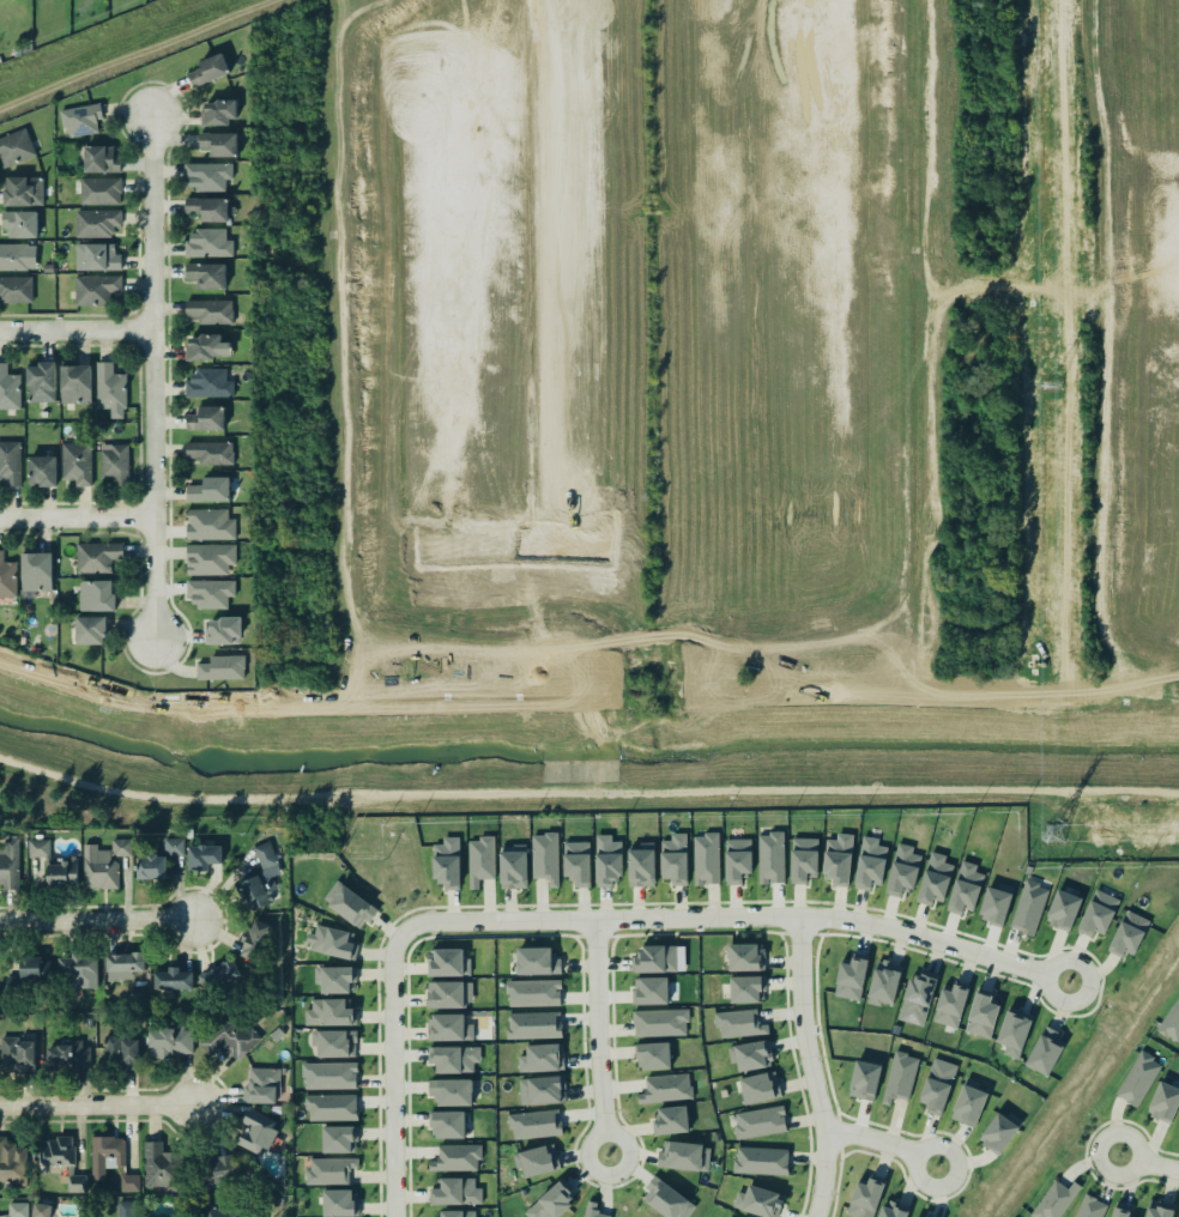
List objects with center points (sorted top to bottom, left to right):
building: (208, 69)
building: (219, 111)
road: (903, 113)
road: (925, 119)
building: (81, 120)
road: (339, 122)
road: (1102, 138)
building: (218, 144)
building: (16, 147)
building: (101, 159)
building: (208, 176)
building: (24, 192)
building: (99, 192)
building: (210, 208)
building: (97, 223)
building: (20, 224)
road: (913, 237)
building: (208, 243)
road: (300, 255)
building: (13, 256)
building: (97, 258)
road: (939, 266)
building: (207, 274)
road: (929, 274)
building: (16, 287)
building: (96, 289)
road: (945, 293)
road: (1038, 295)
building: (211, 311)
road: (74, 326)
building: (208, 347)
road: (150, 377)
building: (42, 382)
building: (75, 383)
building: (208, 383)
power tower: (1051, 385)
building: (10, 388)
building: (110, 389)
road: (906, 408)
road: (345, 412)
building: (205, 418)
building: (211, 452)
building: (77, 461)
building: (114, 461)
building: (10, 462)
building: (41, 470)
road: (1106, 473)
road: (927, 489)
building: (210, 490)
road: (75, 519)
building: (210, 525)
building: (98, 556)
building: (211, 558)
building: (37, 571)
building: (7, 576)
building: (210, 592)
road: (347, 592)
building: (97, 595)
building: (222, 625)
road: (911, 628)
building: (90, 630)
road: (810, 644)
road: (359, 652)
road: (313, 662)
building: (222, 667)
road: (913, 677)
road: (925, 678)
road: (1119, 678)
road: (1114, 683)
road: (696, 685)
road: (1154, 688)
road: (917, 690)
road: (1115, 690)
road: (357, 694)
road: (811, 695)
road: (1016, 697)
road: (1027, 697)
road: (719, 703)
road: (968, 703)
road: (1018, 704)
road: (714, 707)
road: (329, 710)
road: (482, 710)
road: (1070, 710)
road: (611, 714)
road: (600, 723)
road: (676, 725)
road: (589, 728)
road: (617, 739)
road: (586, 791)
power tower: (1054, 836)
building: (202, 853)
building: (548, 858)
building: (772, 858)
building: (675, 859)
building: (706, 859)
building: (839, 859)
building: (480, 860)
building: (607, 860)
building: (738, 860)
building: (803, 860)
building: (158, 861)
building: (8, 862)
building: (103, 862)
building: (447, 862)
building: (578, 862)
building: (870, 864)
building: (641, 865)
building: (903, 871)
building: (518, 872)
building: (259, 877)
building: (935, 882)
building: (966, 889)
building: (996, 904)
building: (351, 907)
building: (1029, 908)
building: (1063, 910)
building: (1099, 914)
road: (742, 915)
road: (96, 919)
building: (1129, 934)
building: (253, 938)
building: (332, 943)
building: (746, 957)
building: (660, 958)
building: (125, 962)
building: (538, 962)
building: (448, 963)
building: (31, 967)
building: (79, 970)
building: (219, 975)
building: (334, 975)
building: (174, 979)
building: (851, 979)
building: (884, 983)
building: (748, 989)
building: (651, 991)
building: (533, 993)
building: (451, 994)
building: (918, 998)
building: (951, 1005)
building: (331, 1012)
building: (982, 1013)
building: (1171, 1022)
building: (532, 1023)
building: (660, 1023)
building: (739, 1023)
building: (448, 1025)
building: (1014, 1031)
road: (599, 1035)
building: (229, 1039)
building: (170, 1041)
building: (337, 1043)
building: (121, 1049)
building: (1045, 1051)
building: (652, 1052)
building: (17, 1054)
building: (751, 1055)
building: (452, 1056)
building: (66, 1058)
building: (542, 1058)
road: (814, 1067)
road: (395, 1071)
building: (327, 1073)
building: (900, 1077)
building: (1137, 1079)
building: (865, 1080)
building: (260, 1084)
building: (665, 1086)
building: (938, 1088)
building: (449, 1089)
building: (761, 1089)
building: (542, 1090)
building: (1163, 1102)
building: (329, 1106)
building: (968, 1107)
road: (98, 1108)
building: (671, 1120)
building: (761, 1124)
building: (449, 1125)
building: (533, 1125)
building: (258, 1132)
building: (1000, 1134)
building: (339, 1139)
road: (884, 1140)
building: (104, 1152)
building: (682, 1154)
building: (457, 1158)
building: (534, 1158)
building: (62, 1161)
building: (12, 1162)
building: (761, 1162)
road: (1147, 1164)
building: (161, 1165)
building: (329, 1170)
building: (220, 1173)
building: (129, 1182)
building: (455, 1193)
building: (866, 1197)
building: (666, 1198)
building: (1053, 1199)
building: (337, 1201)
building: (552, 1201)
building: (758, 1201)
building: (1089, 1207)
building: (19, 1209)
building: (126, 1209)
building: (41, 1210)
building: (592, 1210)
building: (893, 1210)
building: (1160, 1210)
building: (1121, 1211)
building: (218, 1212)
building: (457, 1212)
building: (731, 1216)
building: (917, 1216)
building: (1178, 1216)

